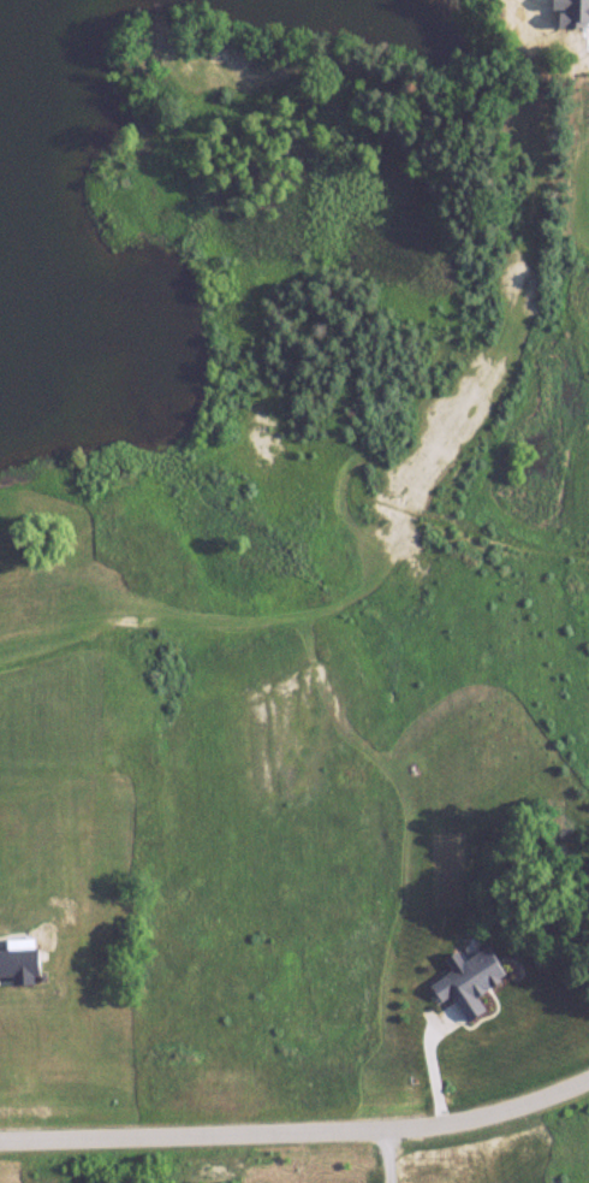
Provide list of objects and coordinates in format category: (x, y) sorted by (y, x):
building: (478, 981)
road: (298, 1131)

